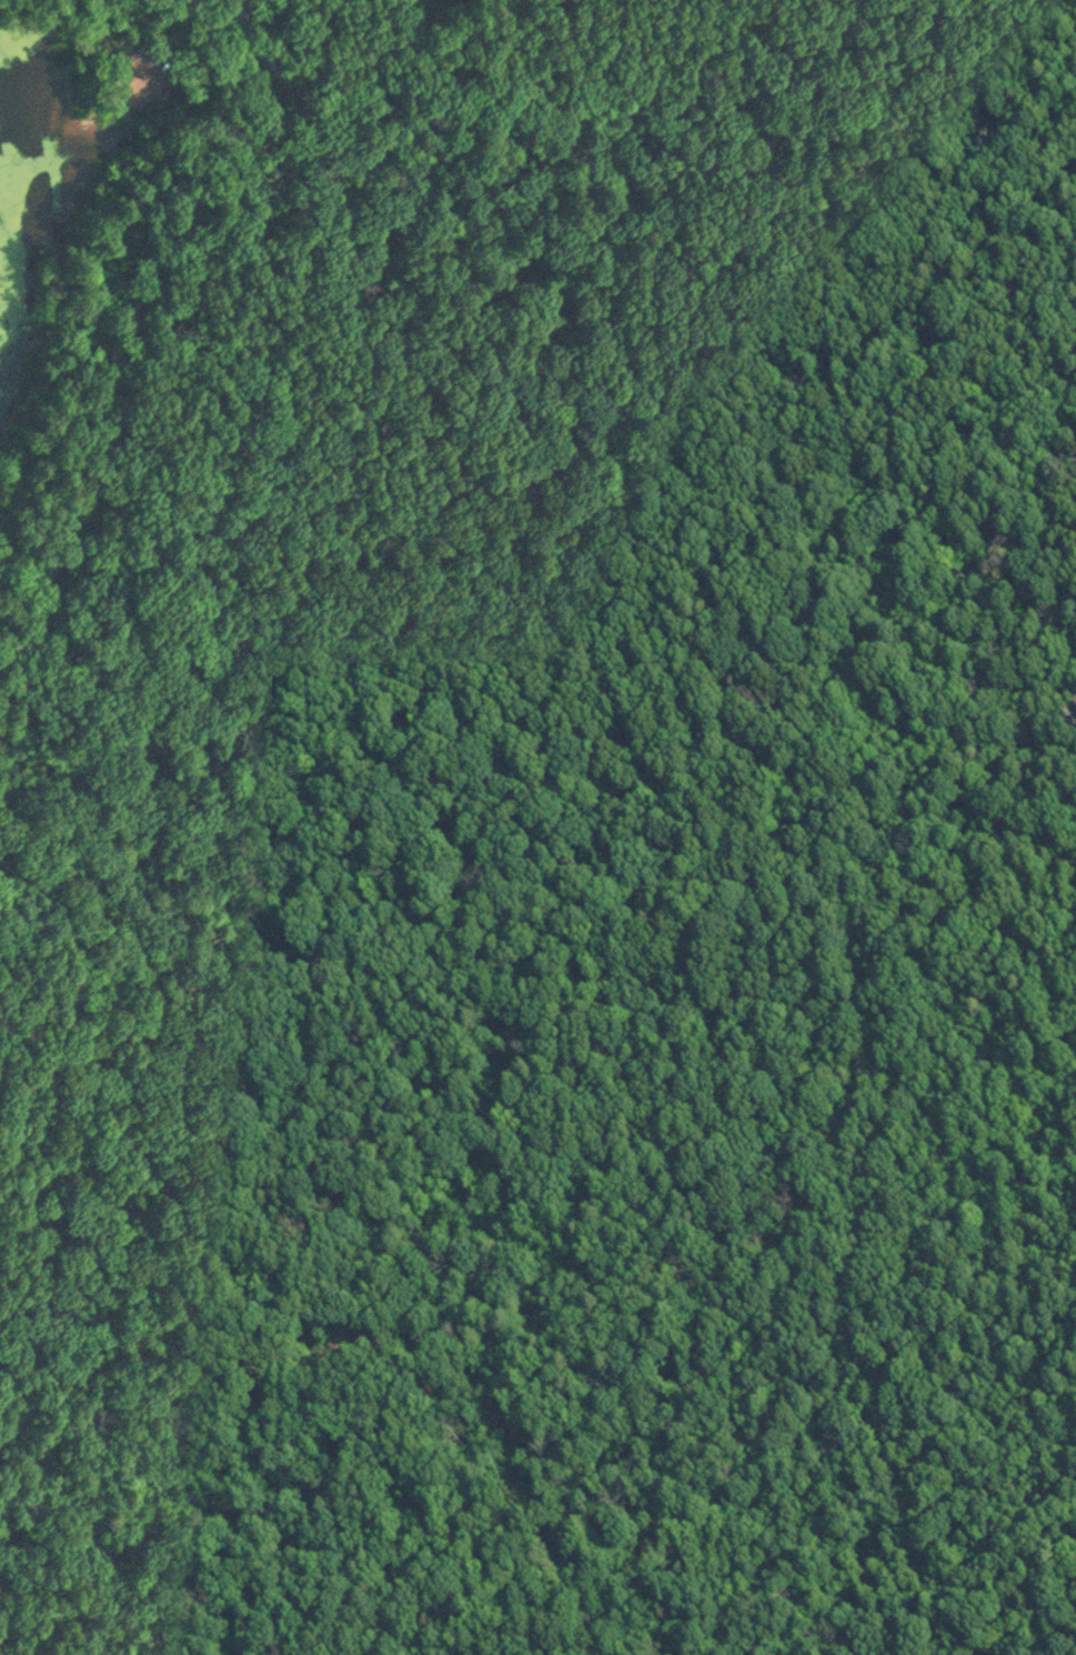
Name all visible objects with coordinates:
road: (135, 313)

